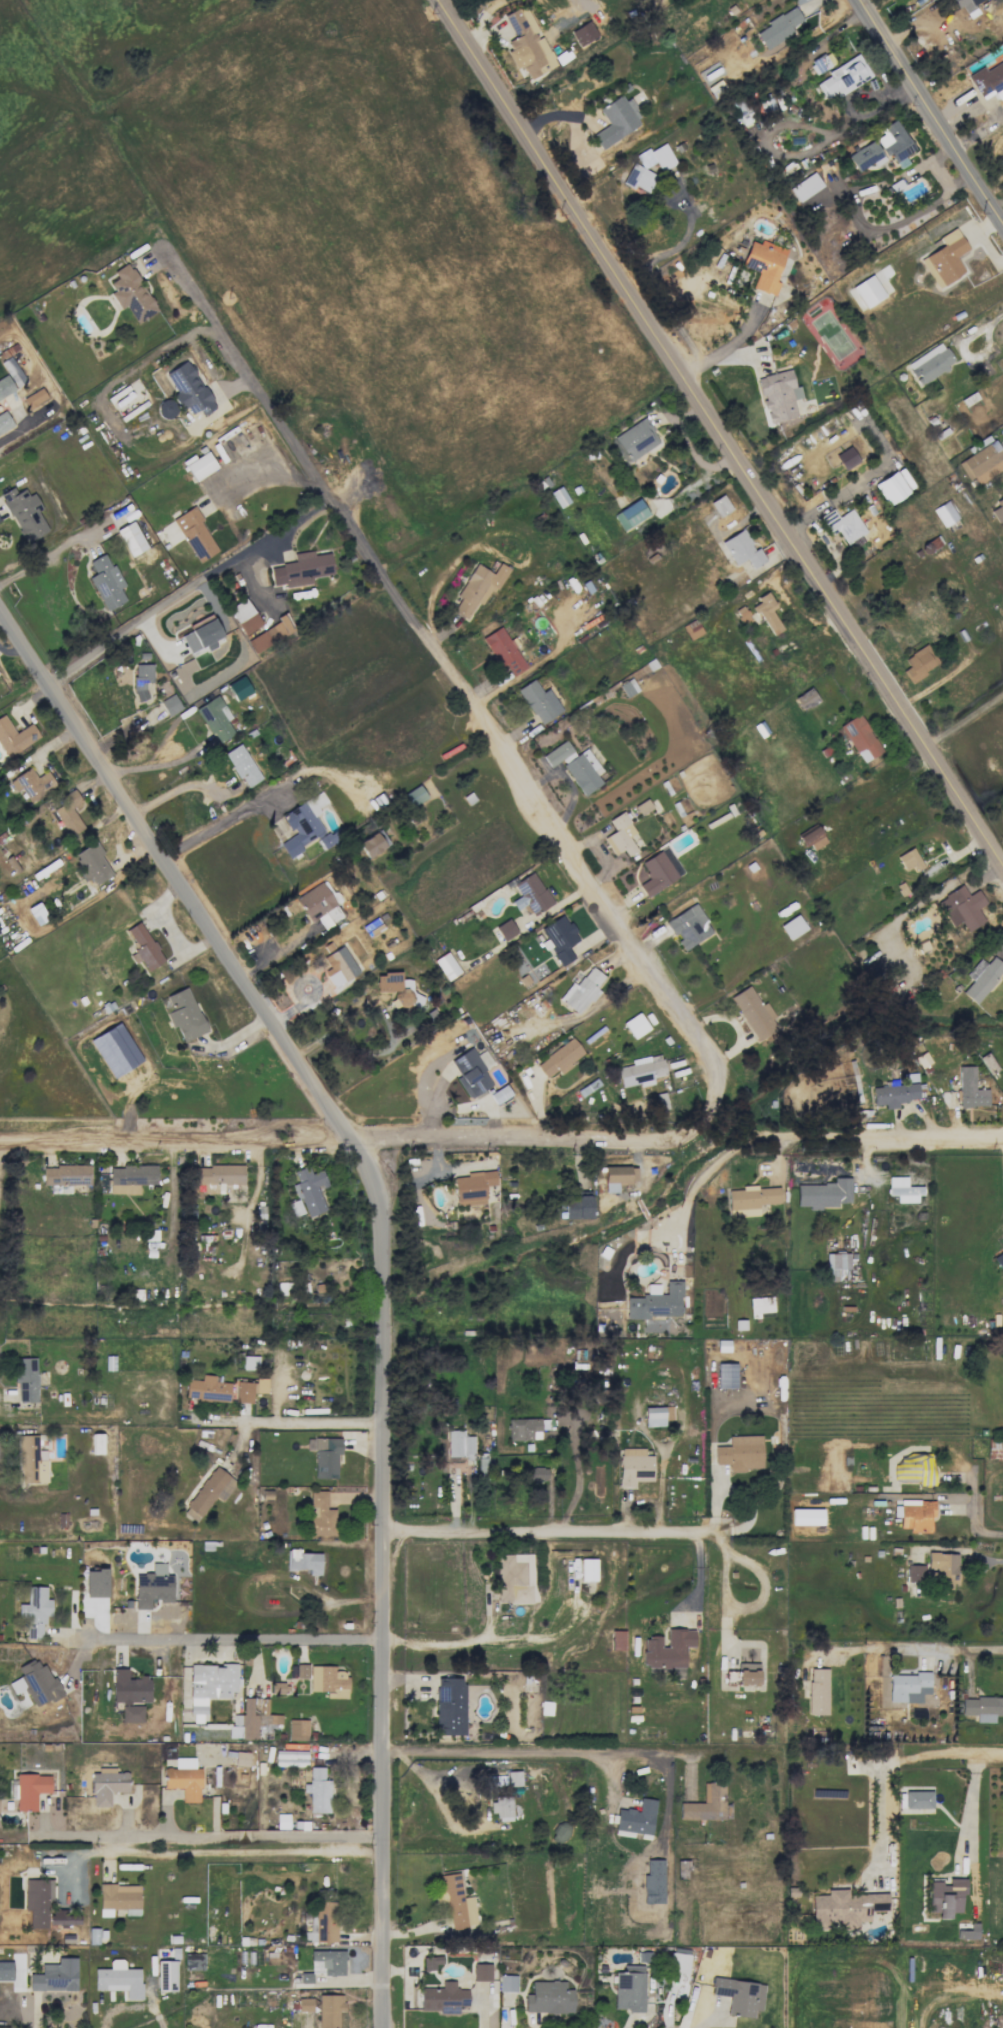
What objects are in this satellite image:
building: (966, 5)
road: (590, 9)
road: (481, 20)
building: (778, 28)
building: (584, 33)
building: (527, 45)
building: (842, 78)
building: (988, 80)
road: (931, 110)
building: (616, 120)
road: (801, 123)
building: (894, 143)
building: (865, 156)
building: (656, 157)
building: (638, 179)
building: (805, 186)
road: (901, 221)
building: (947, 257)
building: (764, 264)
building: (868, 291)
building: (131, 294)
road: (996, 318)
road: (724, 349)
road: (969, 356)
building: (930, 363)
building: (10, 377)
building: (188, 389)
building: (778, 395)
building: (34, 400)
building: (4, 421)
road: (24, 425)
road: (720, 433)
building: (634, 441)
building: (846, 458)
building: (983, 463)
building: (200, 465)
road: (269, 469)
road: (865, 482)
building: (890, 488)
building: (720, 505)
building: (998, 511)
building: (24, 512)
building: (945, 513)
building: (630, 514)
building: (843, 524)
building: (195, 534)
building: (131, 538)
road: (56, 549)
building: (742, 549)
building: (301, 569)
building: (106, 582)
building: (477, 588)
road: (152, 612)
building: (767, 613)
building: (244, 616)
building: (692, 629)
building: (202, 634)
building: (271, 634)
building: (503, 651)
building: (919, 663)
building: (142, 678)
road: (457, 687)
building: (628, 687)
building: (239, 688)
building: (805, 699)
building: (539, 701)
building: (170, 704)
road: (963, 717)
building: (215, 718)
building: (15, 736)
building: (860, 738)
building: (558, 754)
building: (242, 765)
building: (583, 771)
building: (31, 785)
road: (176, 789)
building: (414, 796)
building: (642, 806)
building: (67, 812)
building: (303, 824)
road: (213, 826)
building: (620, 835)
building: (812, 838)
building: (328, 839)
building: (372, 843)
building: (909, 860)
road: (1001, 860)
building: (92, 863)
building: (659, 871)
road: (172, 873)
building: (531, 894)
building: (318, 905)
building: (962, 908)
building: (689, 926)
building: (792, 927)
building: (505, 929)
building: (560, 938)
building: (144, 947)
building: (339, 966)
building: (446, 966)
building: (982, 978)
building: (397, 988)
building: (581, 991)
road: (379, 1011)
building: (754, 1013)
building: (184, 1014)
building: (635, 1025)
building: (116, 1050)
building: (560, 1057)
building: (641, 1071)
building: (470, 1073)
building: (970, 1089)
building: (500, 1094)
building: (894, 1094)
road: (516, 1134)
road: (879, 1135)
road: (174, 1138)
building: (66, 1175)
building: (219, 1175)
building: (618, 1177)
building: (130, 1178)
building: (473, 1187)
road: (691, 1188)
building: (309, 1190)
building: (903, 1190)
building: (824, 1194)
building: (751, 1200)
building: (577, 1207)
building: (998, 1259)
building: (837, 1266)
building: (655, 1302)
building: (760, 1305)
building: (249, 1362)
building: (726, 1375)
building: (26, 1379)
building: (208, 1388)
building: (249, 1389)
building: (654, 1416)
road: (313, 1420)
building: (526, 1428)
building: (96, 1443)
building: (459, 1444)
building: (740, 1453)
building: (326, 1457)
building: (31, 1460)
building: (634, 1467)
building: (915, 1469)
building: (536, 1474)
building: (209, 1492)
building: (320, 1515)
building: (916, 1515)
road: (975, 1522)
road: (544, 1531)
road: (997, 1560)
building: (303, 1561)
building: (588, 1569)
building: (943, 1569)
building: (915, 1573)
road: (383, 1577)
building: (516, 1578)
road: (258, 1580)
building: (96, 1583)
building: (152, 1586)
building: (34, 1611)
road: (230, 1636)
building: (618, 1640)
building: (667, 1648)
road: (905, 1650)
building: (299, 1670)
building: (748, 1674)
building: (329, 1681)
building: (35, 1683)
building: (210, 1684)
building: (129, 1687)
building: (909, 1687)
building: (816, 1691)
building: (450, 1706)
building: (982, 1708)
building: (132, 1713)
building: (256, 1716)
building: (298, 1729)
road: (538, 1750)
road: (938, 1753)
building: (241, 1758)
building: (291, 1758)
building: (510, 1778)
building: (184, 1779)
building: (107, 1785)
building: (30, 1790)
building: (318, 1790)
building: (918, 1799)
building: (707, 1804)
building: (502, 1808)
building: (636, 1818)
road: (875, 1820)
road: (94, 1837)
road: (260, 1839)
building: (946, 1896)
building: (119, 1899)
building: (37, 1900)
building: (455, 1903)
building: (845, 1908)
building: (63, 1918)
building: (968, 1932)
building: (194, 1961)
building: (327, 1962)
building: (431, 1962)
building: (678, 1962)
building: (6, 1970)
building: (481, 1972)
building: (166, 1975)
building: (55, 1976)
building: (119, 1979)
building: (507, 1983)
building: (629, 1988)
building: (739, 1995)
building: (443, 1998)
building: (548, 1998)
building: (326, 2009)
road: (921, 2014)

